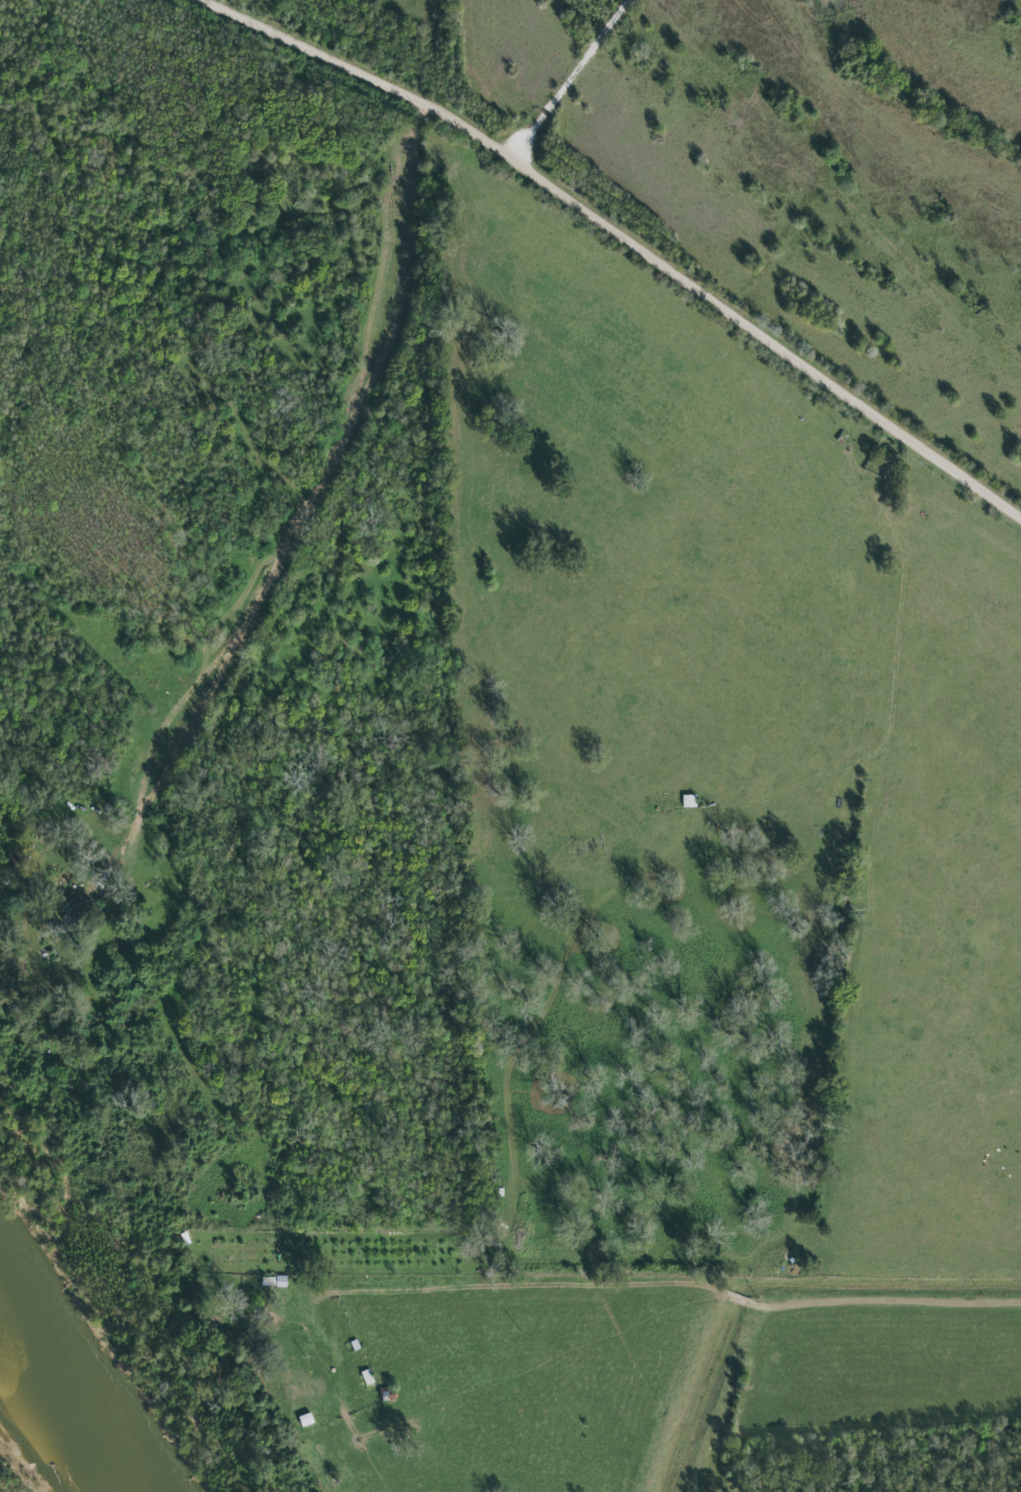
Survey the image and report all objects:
road: (628, 238)
road: (314, 505)
building: (689, 801)
road: (665, 1283)
building: (367, 1378)
river: (64, 1398)
road: (604, 1401)

